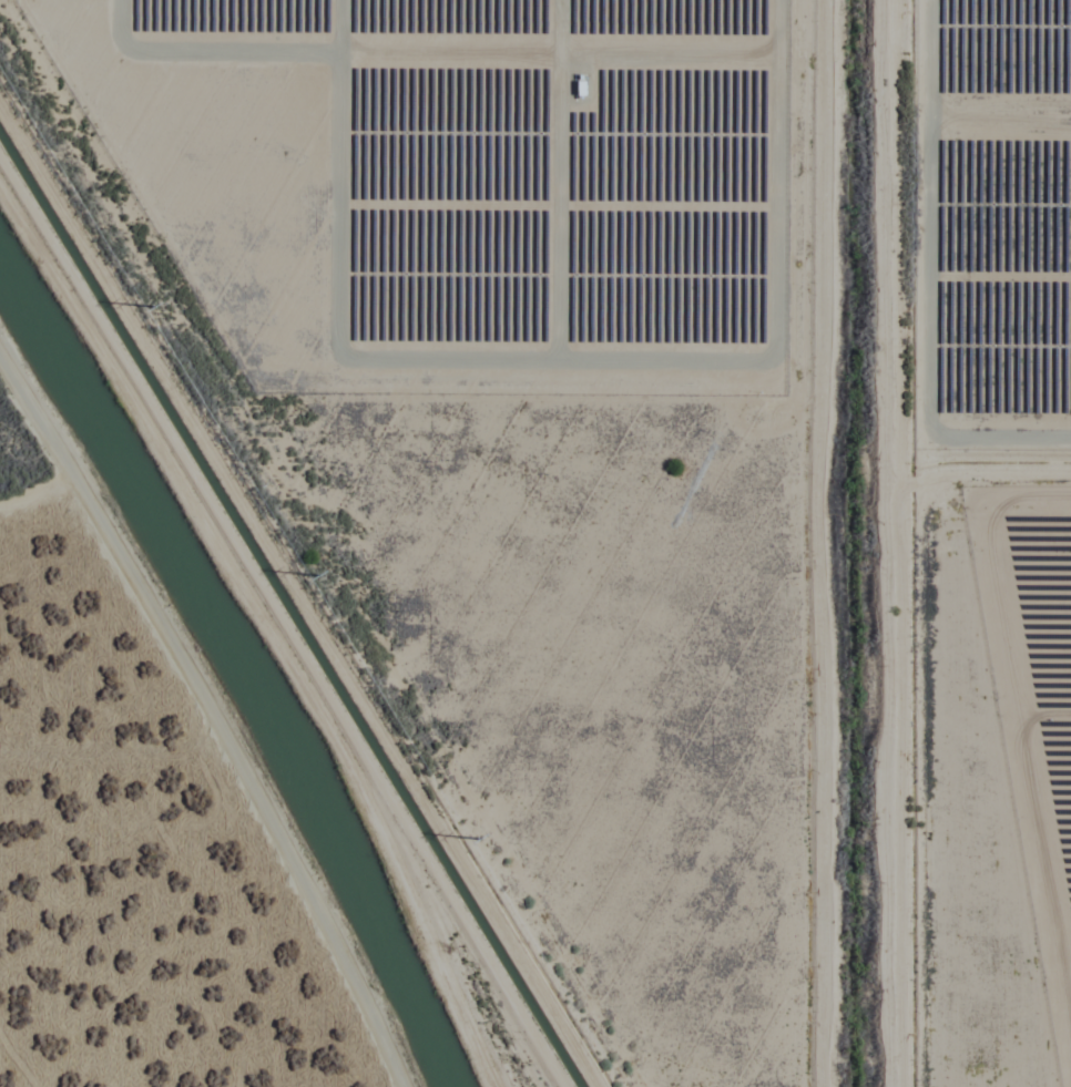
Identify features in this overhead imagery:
solar farm: (458, 187)
solar farm: (994, 227)
power tower: (153, 302)
power tower: (317, 572)
road: (271, 621)
solar farm: (1033, 698)
power tower: (478, 835)

